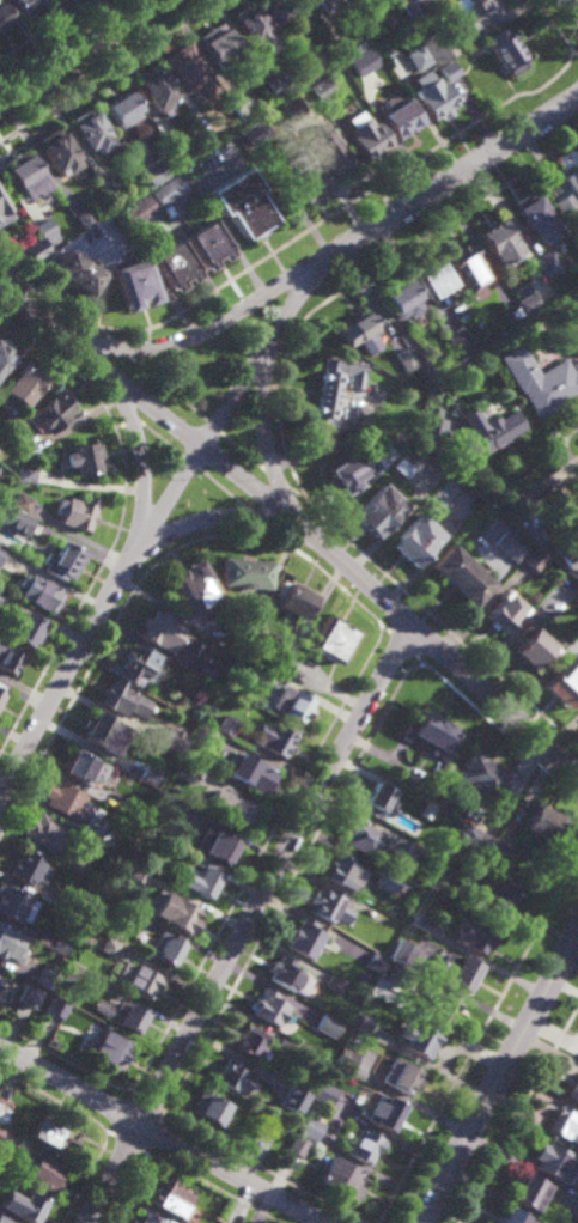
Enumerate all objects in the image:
building: (316, 0)
road: (576, 1)
building: (330, 4)
building: (22, 6)
building: (409, 7)
building: (279, 11)
building: (471, 12)
building: (2, 17)
road: (554, 25)
road: (45, 29)
building: (251, 29)
building: (215, 47)
building: (437, 47)
building: (346, 48)
building: (506, 51)
road: (79, 53)
road: (574, 54)
building: (416, 59)
building: (361, 62)
building: (184, 68)
road: (109, 69)
building: (448, 71)
building: (308, 73)
building: (270, 84)
building: (321, 89)
building: (151, 91)
building: (432, 97)
building: (237, 102)
building: (290, 110)
building: (118, 114)
building: (398, 117)
building: (85, 133)
building: (253, 134)
building: (365, 139)
building: (328, 150)
building: (175, 151)
building: (51, 153)
building: (150, 171)
building: (22, 172)
building: (576, 172)
building: (304, 177)
building: (107, 184)
building: (166, 188)
building: (576, 191)
building: (241, 201)
building: (176, 203)
building: (566, 203)
road: (341, 207)
building: (4, 209)
building: (135, 209)
building: (84, 215)
building: (536, 215)
building: (41, 226)
building: (577, 235)
building: (206, 241)
building: (499, 241)
building: (32, 248)
building: (548, 261)
building: (172, 263)
building: (470, 268)
building: (73, 269)
road: (360, 276)
building: (434, 278)
building: (133, 281)
building: (403, 296)
building: (528, 302)
road: (53, 305)
building: (566, 308)
building: (512, 311)
building: (360, 331)
road: (197, 335)
building: (458, 337)
road: (117, 347)
building: (5, 353)
road: (91, 353)
building: (421, 357)
building: (406, 359)
building: (540, 378)
building: (24, 382)
road: (165, 388)
building: (336, 395)
road: (232, 396)
road: (263, 401)
building: (51, 410)
building: (431, 424)
road: (129, 425)
road: (211, 425)
road: (117, 427)
road: (133, 431)
building: (487, 431)
road: (159, 439)
building: (26, 446)
building: (396, 446)
road: (239, 451)
building: (79, 457)
building: (410, 461)
road: (189, 462)
building: (351, 470)
building: (26, 473)
road: (556, 477)
road: (276, 479)
road: (220, 488)
road: (296, 492)
building: (443, 497)
building: (20, 501)
road: (280, 509)
building: (379, 510)
building: (74, 512)
road: (224, 517)
road: (255, 517)
building: (14, 518)
road: (120, 522)
road: (296, 522)
road: (276, 537)
building: (416, 540)
building: (509, 547)
building: (1, 554)
building: (567, 554)
building: (534, 559)
building: (62, 561)
building: (241, 573)
building: (460, 576)
building: (191, 586)
building: (566, 586)
road: (339, 588)
building: (41, 592)
building: (0, 595)
building: (292, 600)
building: (506, 610)
road: (438, 622)
building: (26, 631)
building: (157, 631)
road: (108, 634)
building: (330, 640)
building: (531, 646)
building: (190, 652)
building: (8, 661)
building: (135, 667)
building: (205, 670)
building: (255, 673)
building: (564, 684)
building: (1, 693)
building: (122, 700)
building: (292, 705)
building: (225, 725)
building: (97, 730)
building: (431, 734)
building: (205, 736)
building: (170, 740)
building: (275, 740)
building: (85, 768)
building: (250, 773)
building: (148, 774)
building: (191, 774)
building: (483, 780)
building: (408, 786)
building: (378, 801)
building: (66, 802)
building: (176, 808)
building: (130, 809)
building: (422, 810)
building: (237, 814)
building: (540, 827)
building: (47, 834)
building: (93, 834)
building: (365, 839)
building: (474, 840)
building: (89, 845)
building: (218, 846)
building: (499, 852)
building: (418, 854)
building: (458, 854)
building: (114, 858)
road: (257, 859)
building: (73, 865)
building: (343, 869)
building: (30, 870)
building: (135, 871)
building: (199, 876)
building: (387, 880)
building: (498, 896)
building: (56, 899)
building: (13, 903)
building: (327, 903)
building: (175, 909)
building: (123, 912)
building: (420, 919)
road: (249, 923)
building: (474, 933)
building: (305, 937)
building: (49, 939)
building: (11, 941)
building: (107, 944)
building: (165, 947)
building: (401, 949)
building: (376, 959)
building: (458, 969)
building: (69, 973)
building: (287, 974)
building: (44, 976)
building: (136, 976)
building: (336, 982)
building: (383, 987)
building: (29, 993)
building: (53, 1005)
building: (440, 1005)
building: (269, 1006)
building: (120, 1012)
building: (363, 1023)
building: (329, 1024)
building: (422, 1040)
building: (251, 1041)
building: (286, 1045)
building: (107, 1048)
building: (300, 1051)
building: (345, 1058)
road: (62, 1060)
building: (402, 1075)
road: (500, 1075)
building: (231, 1076)
building: (573, 1089)
building: (324, 1093)
building: (293, 1097)
building: (2, 1107)
building: (208, 1107)
building: (384, 1111)
building: (565, 1124)
building: (309, 1127)
building: (1, 1130)
building: (285, 1131)
building: (53, 1133)
road: (163, 1134)
building: (297, 1145)
building: (365, 1145)
building: (550, 1158)
building: (41, 1170)
building: (341, 1175)
building: (529, 1191)
building: (168, 1195)
building: (25, 1204)
building: (566, 1205)
building: (512, 1216)
building: (140, 1218)
building: (5, 1219)

